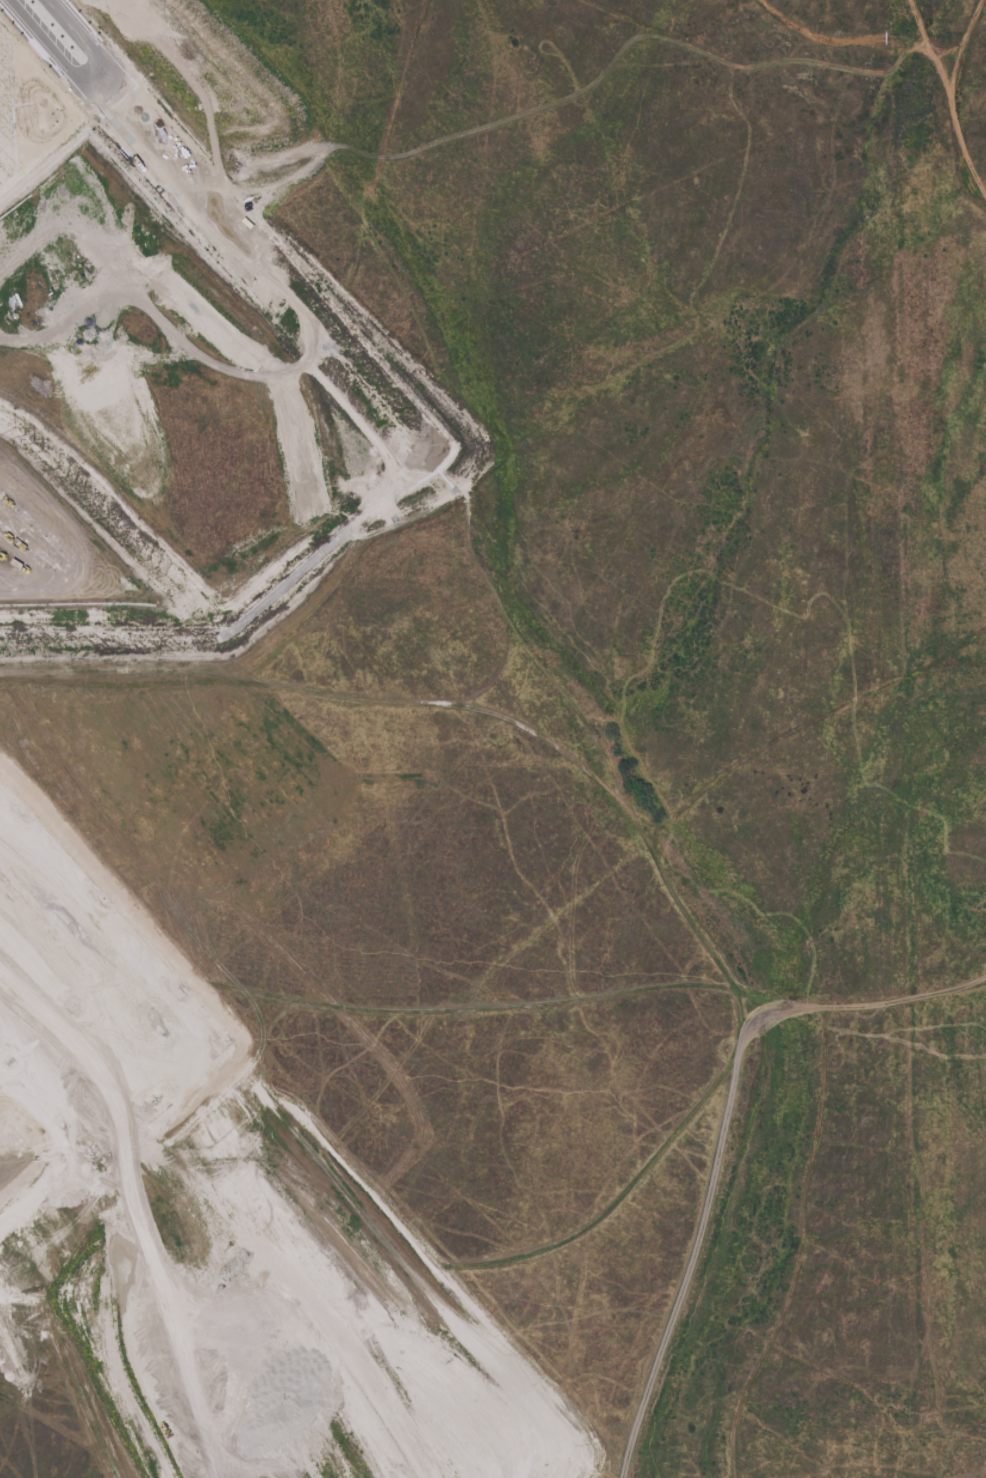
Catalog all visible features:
road: (957, 39)
road: (77, 44)
road: (839, 44)
road: (47, 54)
road: (945, 106)
road: (460, 163)
road: (843, 187)
road: (341, 242)
road: (350, 258)
road: (464, 405)
road: (686, 875)
road: (624, 910)
road: (534, 974)
road: (454, 977)
road: (859, 1006)
road: (710, 1092)
road: (158, 1146)
road: (645, 1161)
road: (692, 1192)
road: (700, 1236)
road: (14, 1302)
road: (51, 1425)
road: (813, 1451)
road: (897, 1456)
road: (13, 1460)

